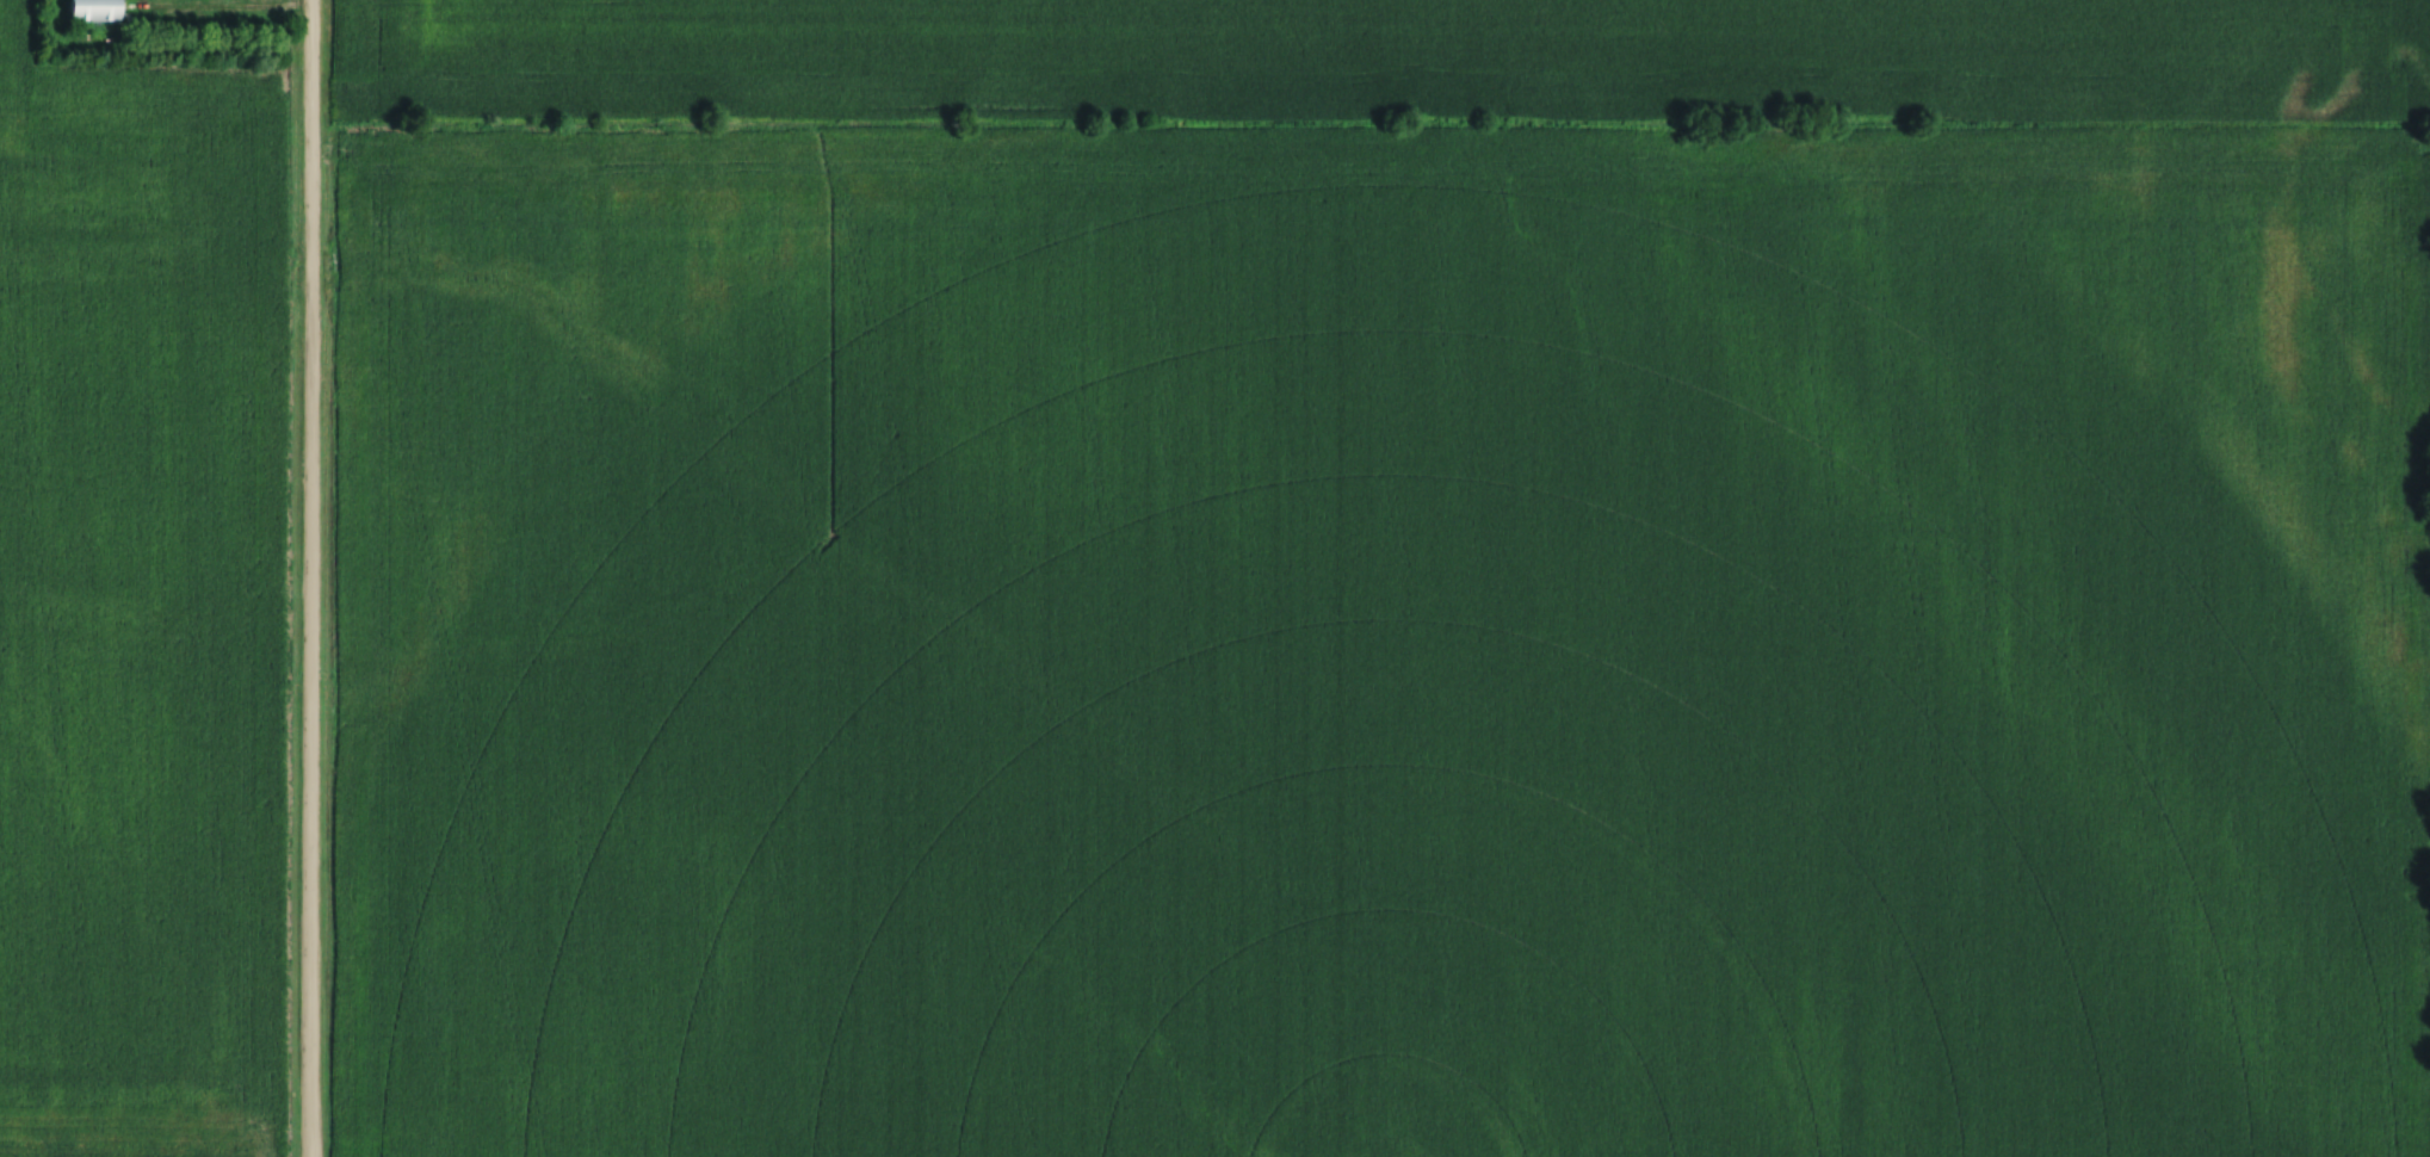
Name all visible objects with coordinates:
building: (101, 10)
road: (310, 578)

